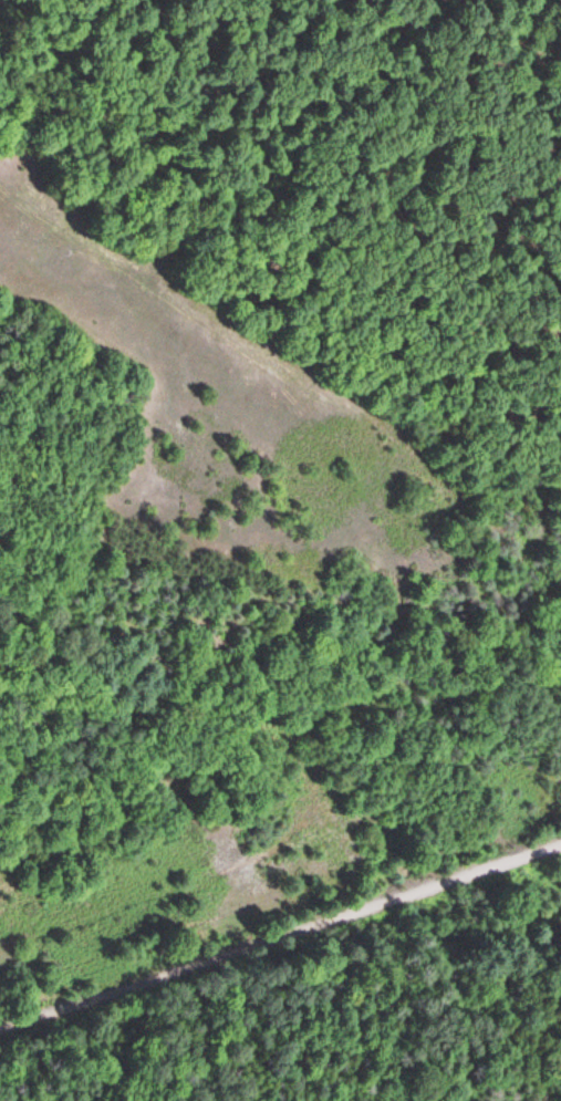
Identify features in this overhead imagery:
road: (280, 941)

